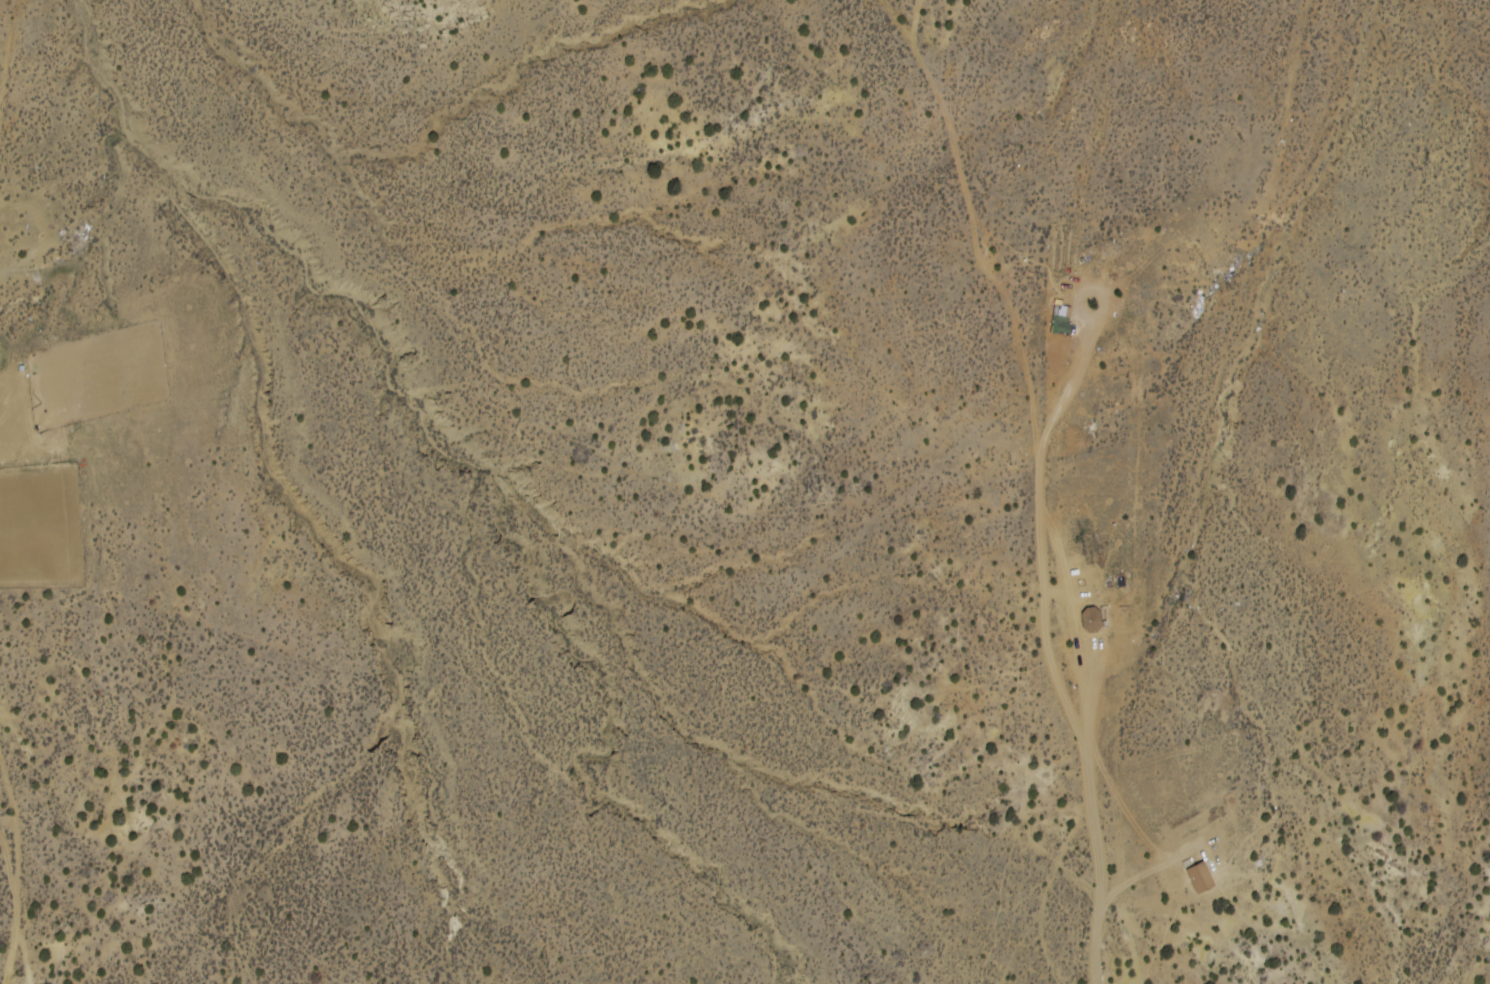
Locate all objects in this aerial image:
building: (1062, 319)
building: (1091, 619)
road: (422, 766)
road: (479, 847)
road: (253, 850)
road: (302, 938)

